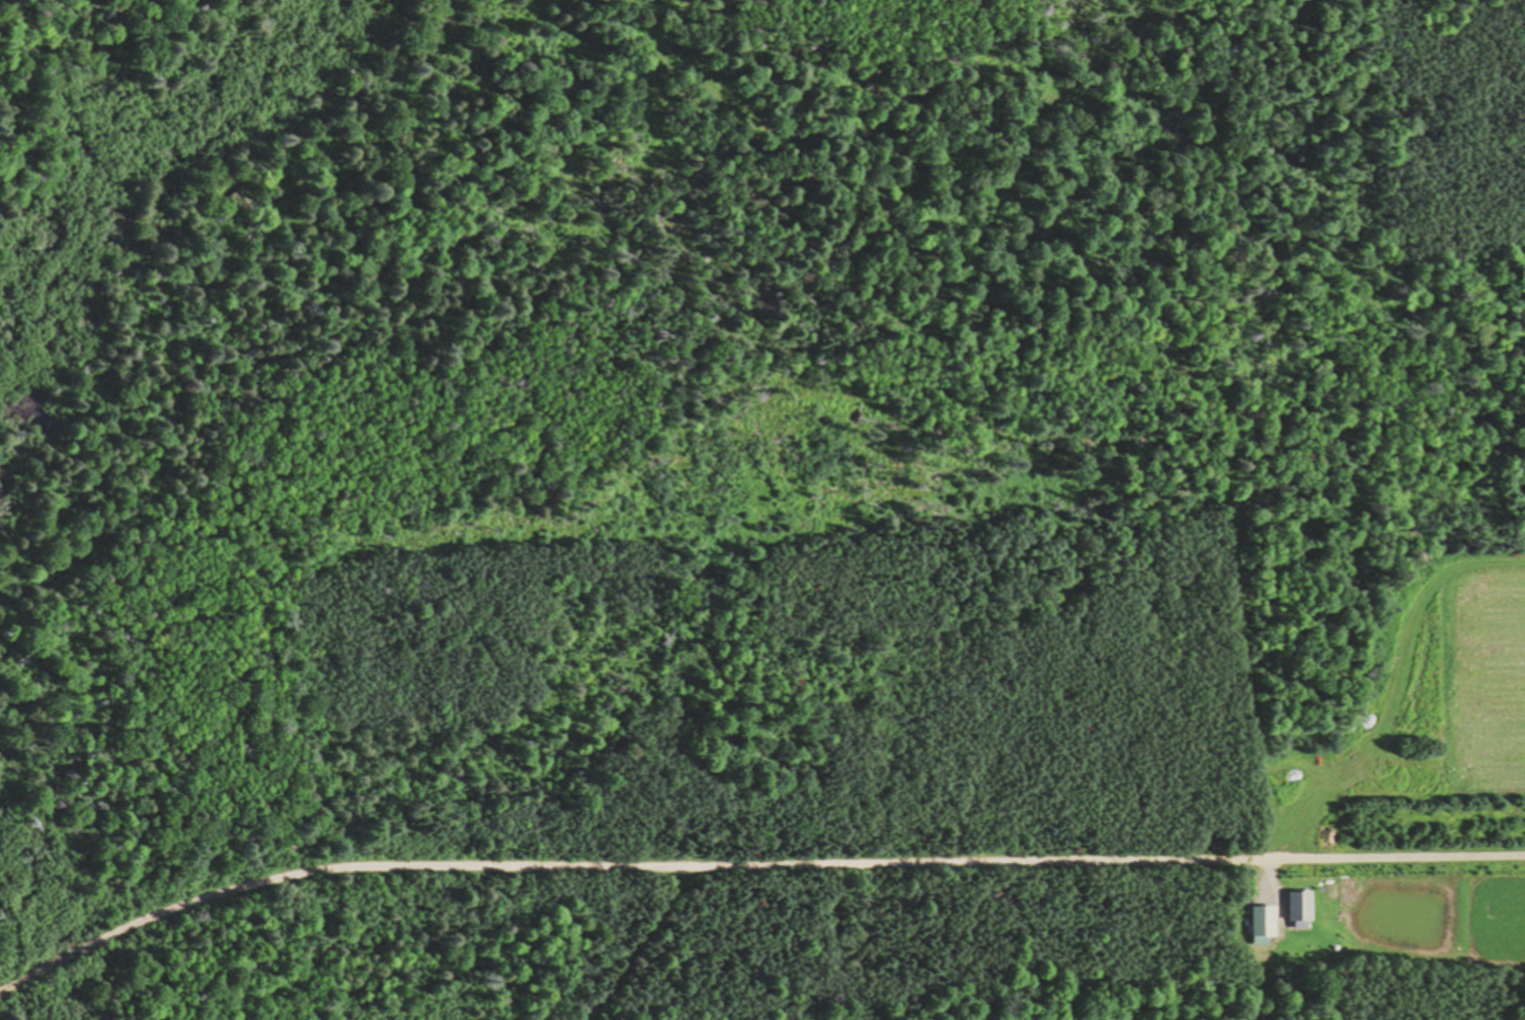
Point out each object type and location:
road: (1259, 764)
road: (750, 865)

